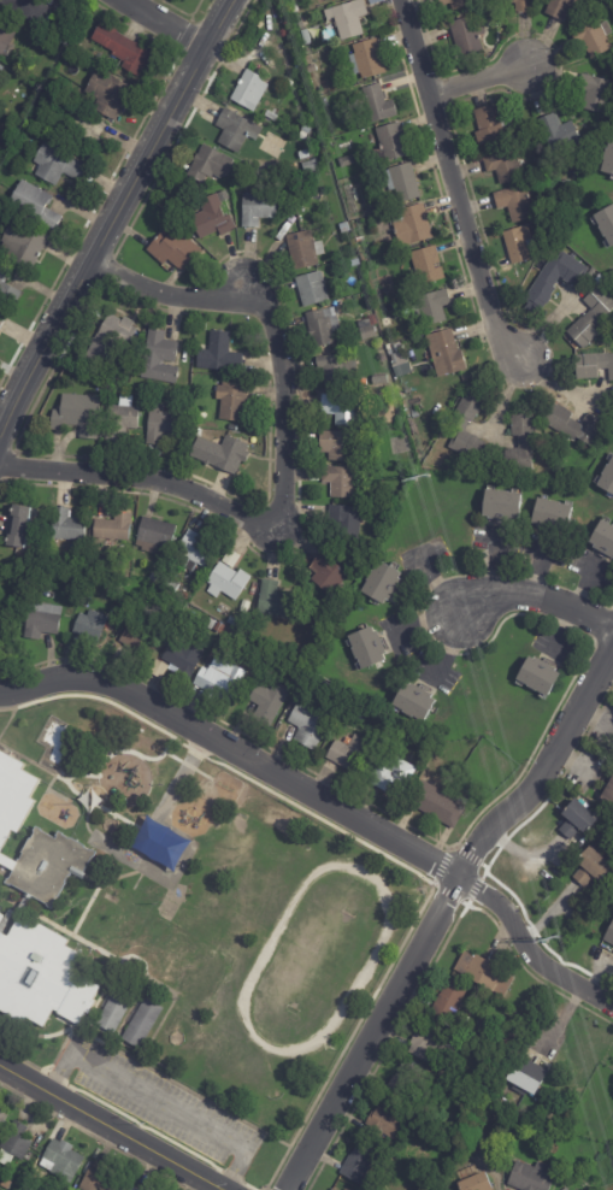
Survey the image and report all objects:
building: (328, 0)
building: (455, 2)
building: (518, 5)
building: (561, 7)
building: (293, 8)
building: (34, 10)
building: (346, 19)
road: (166, 23)
building: (300, 28)
building: (10, 30)
building: (69, 33)
building: (466, 35)
building: (593, 37)
building: (124, 48)
building: (366, 60)
building: (0, 61)
building: (310, 69)
building: (2, 70)
road: (479, 77)
building: (247, 90)
building: (111, 93)
building: (594, 93)
building: (377, 104)
building: (14, 108)
building: (278, 120)
building: (83, 124)
building: (490, 124)
building: (234, 130)
building: (1, 131)
building: (558, 135)
building: (390, 142)
building: (317, 146)
building: (303, 155)
building: (608, 159)
building: (5, 160)
building: (346, 161)
building: (61, 163)
building: (208, 165)
building: (310, 166)
building: (503, 167)
building: (0, 171)
building: (402, 182)
road: (453, 187)
building: (550, 190)
building: (514, 204)
building: (39, 205)
building: (179, 208)
building: (258, 210)
road: (111, 217)
building: (212, 218)
building: (552, 219)
building: (605, 224)
building: (411, 225)
building: (342, 228)
building: (28, 242)
building: (518, 245)
building: (173, 249)
building: (394, 249)
building: (302, 251)
building: (377, 254)
building: (354, 263)
building: (426, 266)
building: (599, 278)
building: (554, 281)
building: (10, 285)
building: (311, 289)
building: (432, 307)
building: (590, 317)
building: (371, 320)
building: (4, 322)
building: (384, 323)
building: (201, 325)
building: (322, 326)
building: (367, 332)
building: (110, 340)
building: (394, 347)
building: (444, 354)
building: (217, 355)
building: (159, 359)
building: (399, 365)
building: (593, 366)
building: (336, 370)
building: (379, 379)
building: (363, 383)
building: (423, 396)
building: (231, 401)
building: (342, 410)
building: (77, 416)
building: (122, 420)
building: (161, 425)
building: (465, 425)
building: (577, 425)
building: (232, 428)
building: (337, 446)
building: (520, 446)
building: (219, 454)
building: (589, 454)
road: (284, 466)
power tower: (422, 478)
building: (607, 479)
building: (340, 482)
building: (501, 506)
building: (550, 514)
building: (346, 523)
building: (18, 526)
building: (188, 526)
building: (67, 528)
building: (111, 529)
building: (154, 536)
building: (603, 538)
building: (196, 550)
building: (326, 575)
building: (152, 578)
building: (378, 581)
building: (226, 583)
building: (170, 585)
building: (70, 588)
road: (534, 600)
building: (273, 601)
building: (172, 608)
building: (14, 609)
building: (41, 621)
building: (232, 624)
building: (210, 625)
building: (88, 628)
building: (217, 629)
building: (2, 636)
building: (141, 643)
building: (365, 644)
building: (297, 647)
building: (257, 648)
building: (182, 659)
building: (157, 670)
building: (535, 672)
building: (307, 679)
building: (218, 682)
building: (324, 688)
road: (99, 697)
building: (341, 699)
building: (413, 701)
building: (264, 706)
road: (7, 721)
building: (307, 721)
road: (117, 750)
road: (195, 750)
building: (348, 755)
road: (188, 766)
road: (181, 776)
building: (390, 778)
road: (70, 787)
building: (608, 793)
building: (13, 794)
road: (323, 802)
building: (438, 806)
road: (86, 818)
building: (577, 820)
building: (603, 832)
building: (47, 865)
building: (590, 867)
road: (108, 878)
road: (136, 882)
road: (184, 886)
building: (611, 888)
road: (20, 908)
road: (86, 908)
road: (440, 912)
road: (7, 915)
building: (1, 917)
park: (219, 917)
road: (413, 923)
building: (609, 935)
power tower: (554, 942)
road: (124, 956)
track: (372, 959)
building: (483, 973)
building: (41, 976)
road: (100, 995)
building: (447, 1001)
building: (521, 1008)
building: (113, 1009)
building: (141, 1024)
road: (35, 1036)
building: (499, 1039)
road: (129, 1045)
building: (430, 1047)
road: (46, 1071)
building: (525, 1076)
road: (55, 1078)
road: (171, 1080)
building: (405, 1084)
parking lot: (157, 1103)
road: (159, 1104)
building: (2, 1118)
building: (382, 1124)
road: (112, 1127)
road: (143, 1127)
building: (12, 1143)
building: (476, 1145)
building: (381, 1147)
building: (60, 1161)
building: (356, 1164)
road: (232, 1177)
building: (530, 1177)
building: (99, 1179)
building: (476, 1183)
road: (249, 1186)
building: (132, 1189)
building: (332, 1189)
building: (344, 1189)

